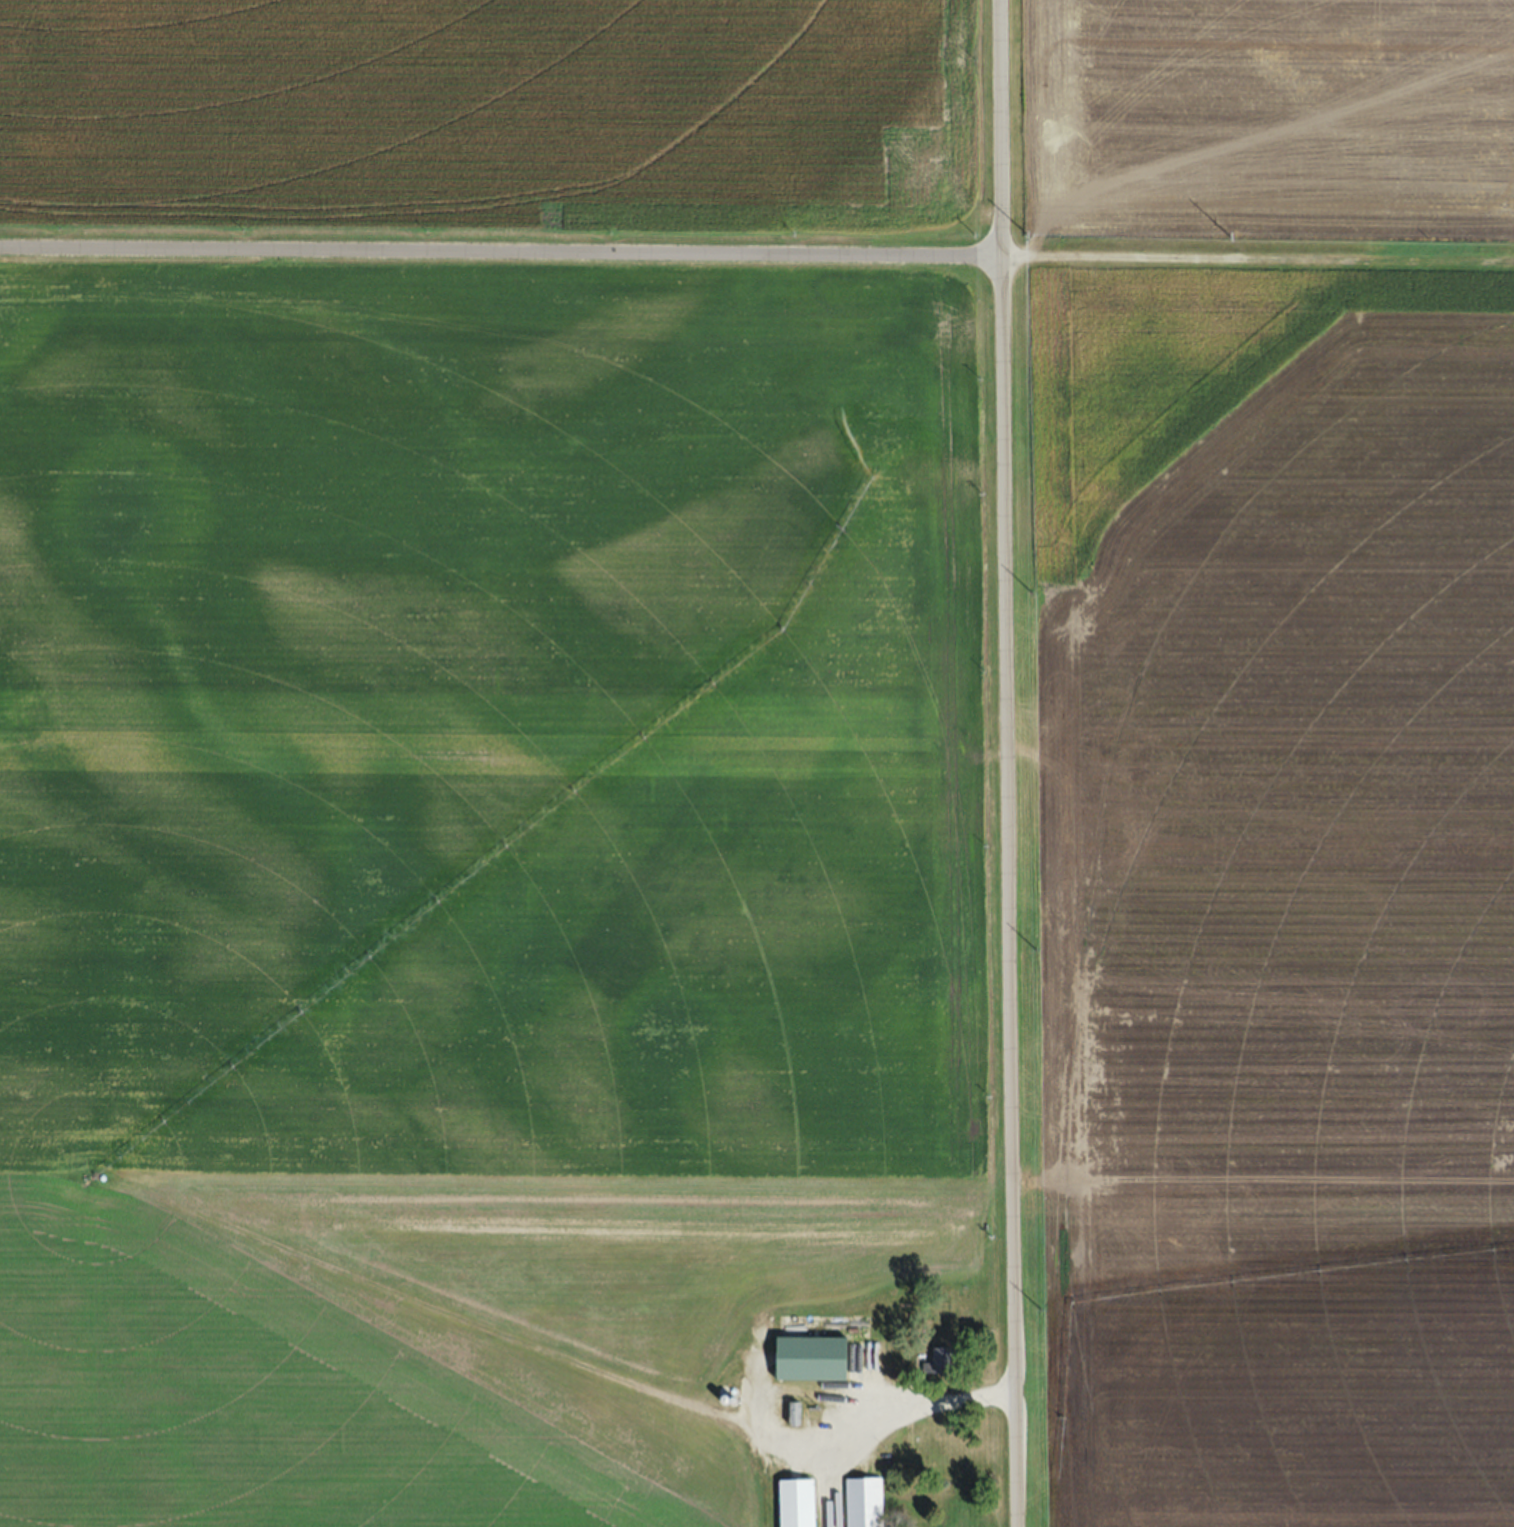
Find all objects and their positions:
power tower: (1034, 234)
power tower: (1230, 235)
power tower: (1431, 238)
road: (499, 257)
power tower: (1035, 591)
road: (1005, 763)
power tower: (1036, 947)
power tower: (1043, 1307)
building: (828, 1357)
building: (941, 1361)
building: (937, 1443)
building: (864, 1501)
building: (797, 1502)

